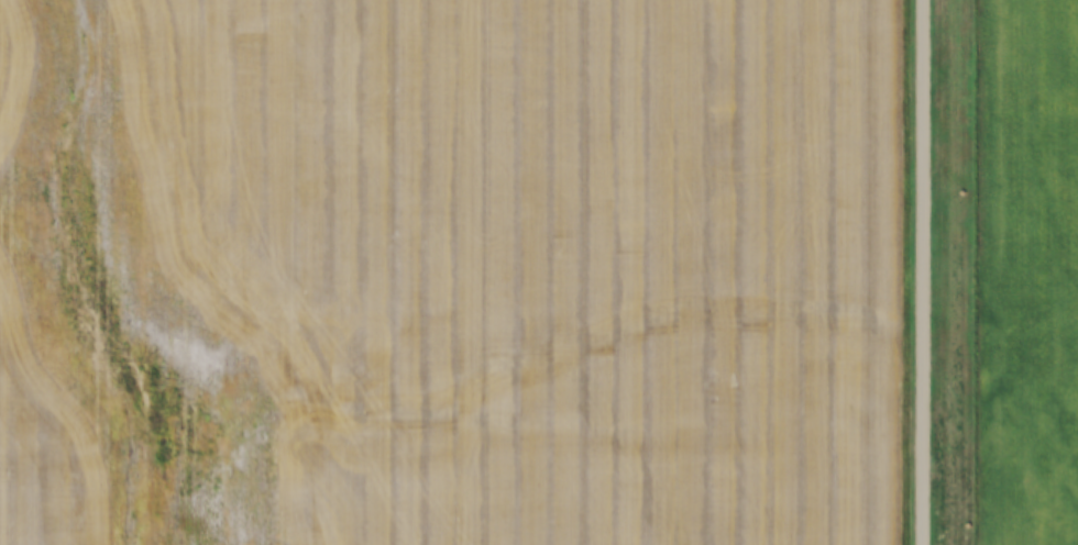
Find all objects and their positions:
road: (928, 271)

